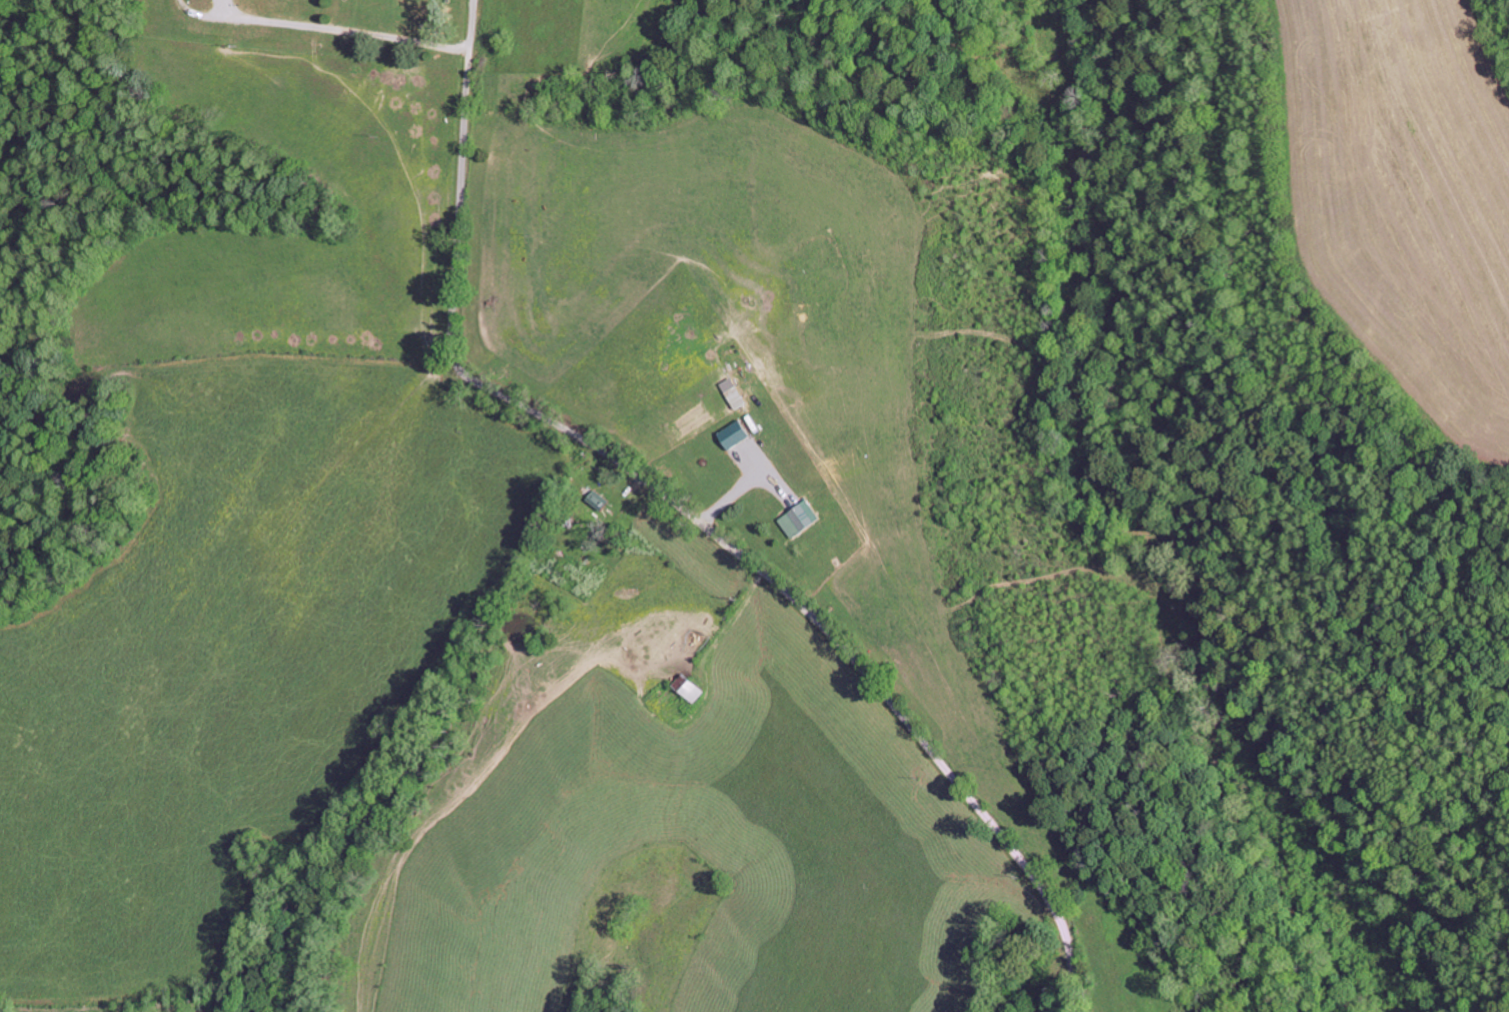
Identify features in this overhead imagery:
road: (460, 179)
building: (732, 433)
building: (797, 518)
road: (826, 632)
building: (687, 687)

